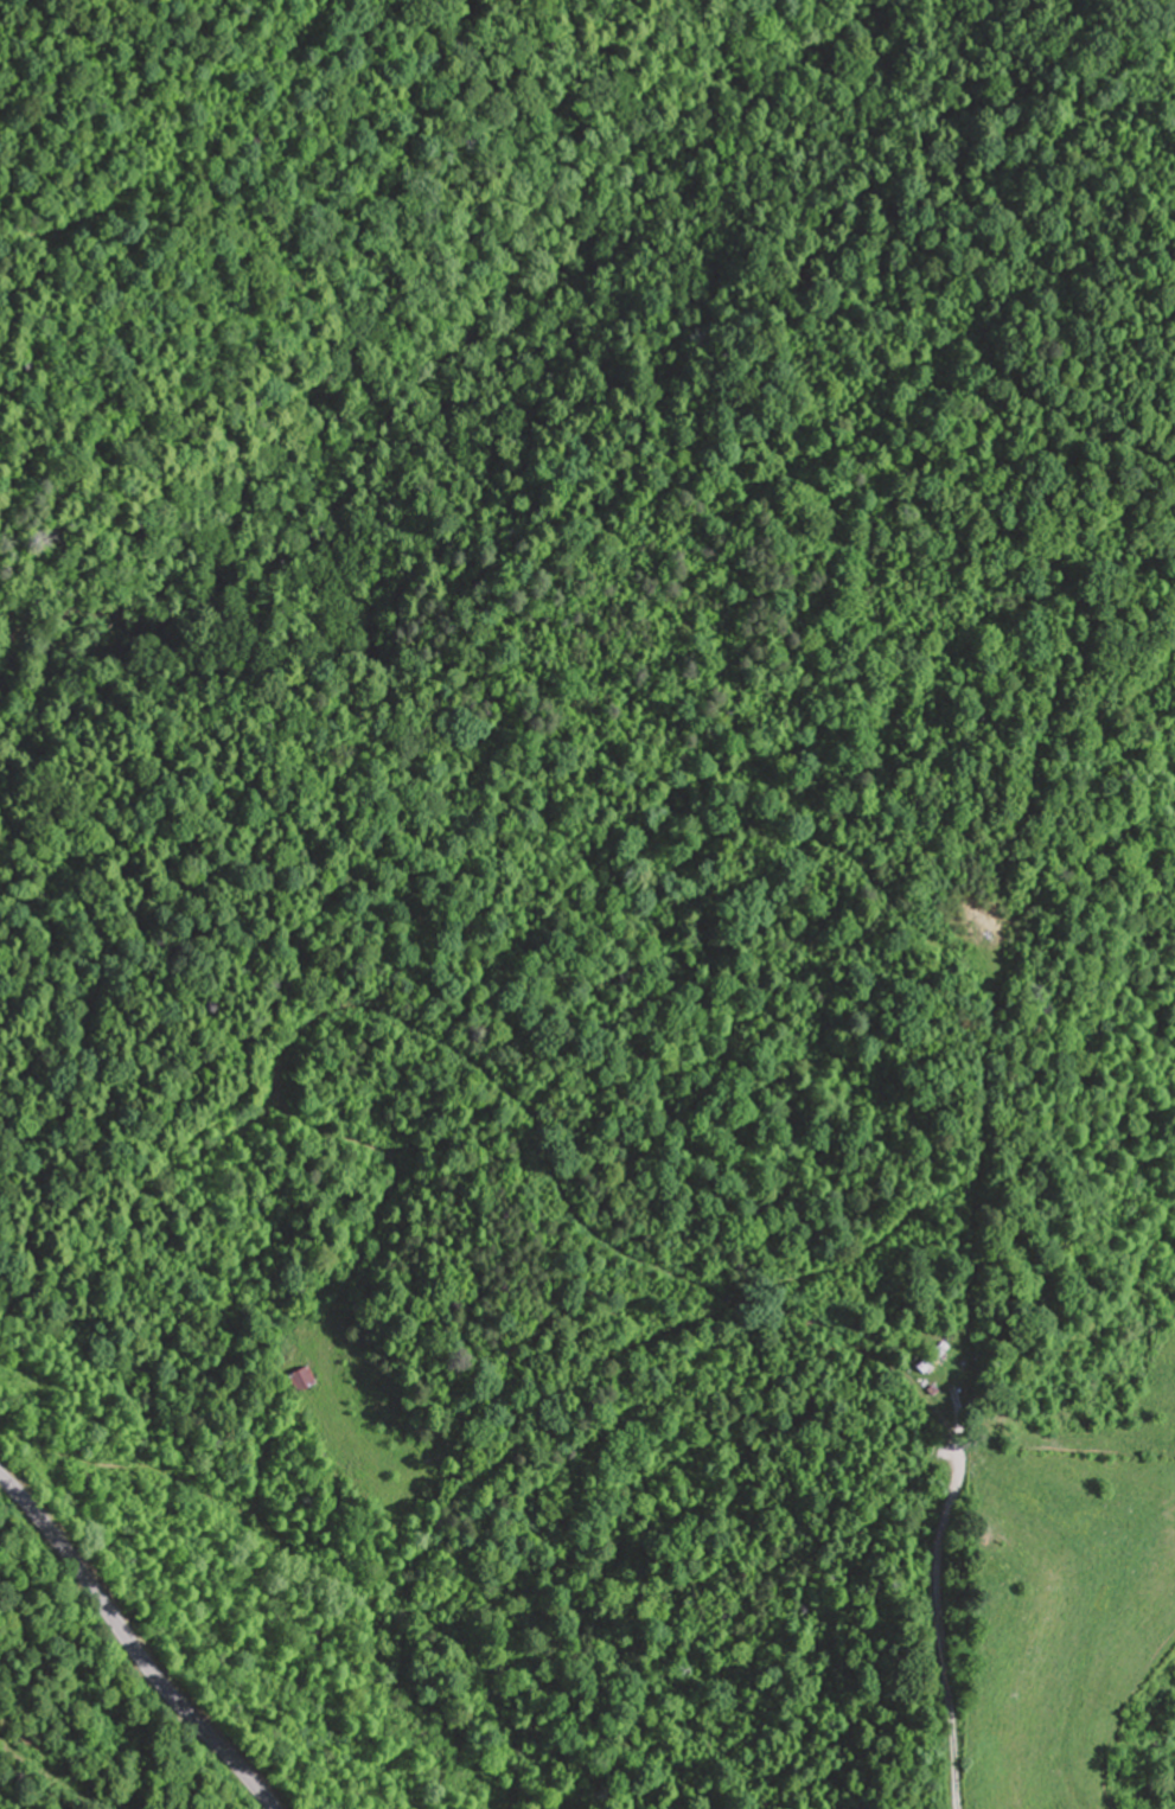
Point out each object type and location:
building: (930, 1359)
building: (299, 1379)
road: (941, 1626)
road: (136, 1639)

